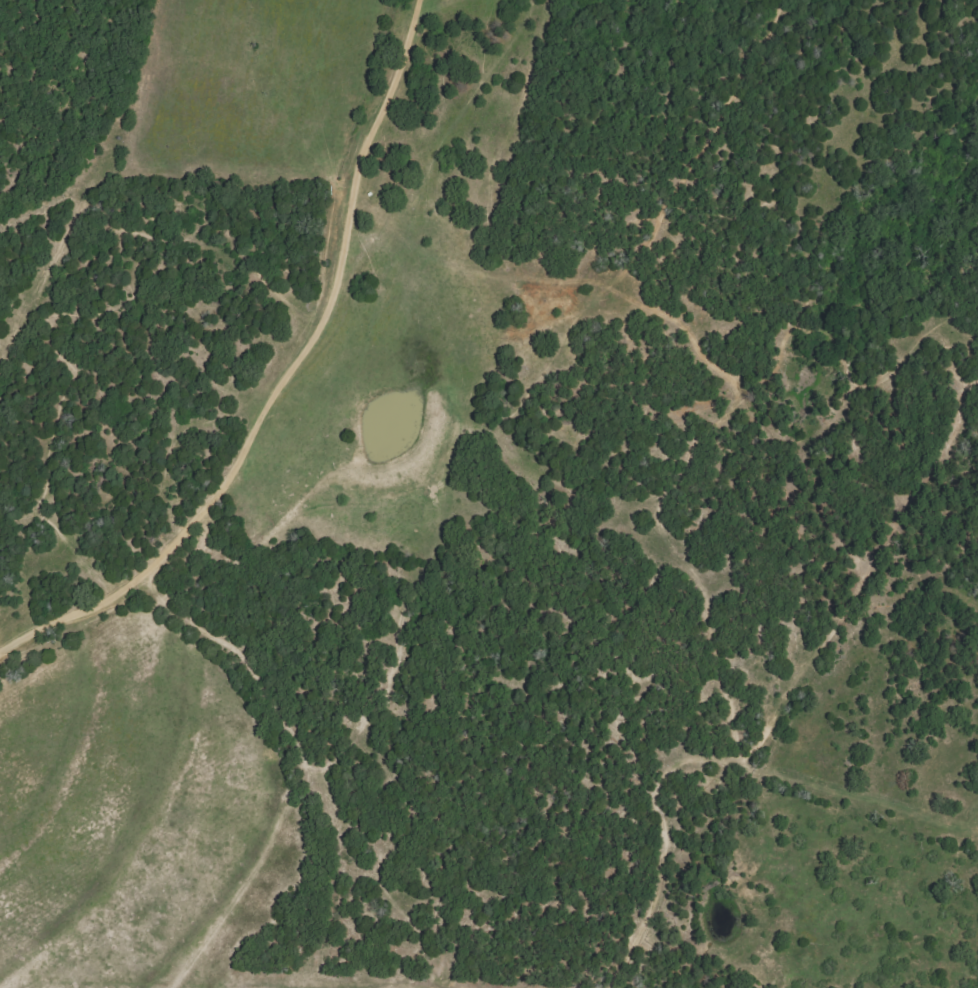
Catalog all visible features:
road: (261, 237)
road: (249, 435)

